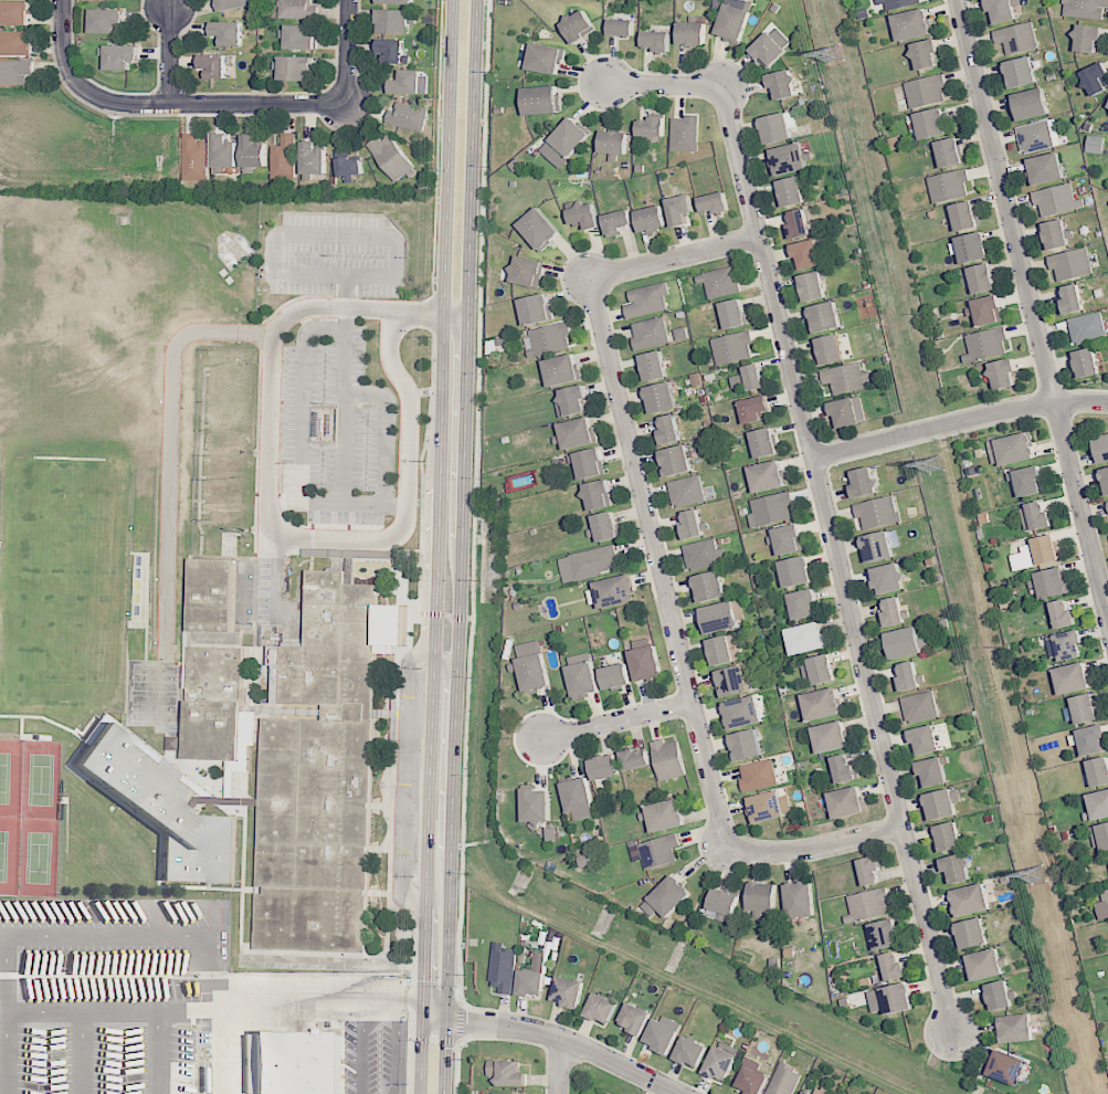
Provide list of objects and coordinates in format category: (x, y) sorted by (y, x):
building: (397, 1)
building: (900, 3)
building: (236, 4)
building: (299, 9)
building: (1086, 9)
building: (1004, 10)
building: (15, 13)
building: (864, 13)
building: (107, 20)
building: (395, 20)
building: (735, 22)
building: (623, 24)
building: (580, 25)
building: (915, 25)
building: (230, 32)
building: (694, 33)
building: (302, 38)
building: (1019, 38)
building: (1088, 38)
building: (659, 39)
building: (14, 43)
building: (393, 50)
building: (770, 50)
road: (347, 52)
building: (928, 54)
road: (168, 55)
power tower: (834, 55)
building: (123, 56)
building: (547, 59)
building: (214, 65)
building: (298, 67)
building: (15, 71)
building: (1023, 72)
building: (1096, 78)
building: (409, 82)
building: (785, 84)
building: (927, 92)
building: (544, 99)
road: (166, 104)
building: (1032, 105)
building: (1107, 111)
building: (408, 117)
building: (933, 124)
building: (654, 126)
building: (778, 128)
building: (686, 133)
building: (573, 137)
building: (1037, 137)
building: (618, 143)
building: (1095, 144)
road: (435, 146)
building: (226, 152)
building: (951, 152)
building: (257, 154)
building: (394, 157)
building: (287, 158)
building: (198, 159)
building: (316, 159)
building: (792, 159)
building: (352, 166)
building: (1047, 170)
building: (950, 186)
building: (794, 191)
building: (1058, 200)
building: (716, 202)
building: (678, 209)
building: (587, 214)
building: (968, 217)
building: (654, 219)
building: (618, 222)
building: (800, 224)
building: (541, 228)
building: (1059, 234)
building: (974, 248)
building: (809, 255)
road: (674, 257)
building: (1073, 263)
building: (529, 270)
building: (984, 277)
building: (721, 282)
building: (814, 286)
building: (1076, 298)
building: (648, 299)
building: (537, 308)
building: (991, 311)
road: (1032, 312)
building: (736, 313)
road: (430, 314)
road: (454, 317)
building: (826, 317)
building: (1089, 328)
building: (653, 332)
building: (551, 339)
building: (496, 345)
building: (986, 345)
building: (735, 347)
building: (832, 349)
building: (230, 359)
building: (1088, 364)
building: (656, 366)
building: (564, 370)
building: (1005, 372)
building: (756, 377)
building: (846, 377)
building: (229, 390)
building: (664, 397)
building: (572, 401)
building: (755, 408)
building: (846, 412)
building: (228, 417)
road: (960, 424)
building: (669, 431)
building: (578, 433)
building: (228, 442)
building: (767, 443)
building: (1104, 448)
building: (1014, 449)
road: (171, 455)
building: (678, 461)
building: (590, 463)
building: (225, 465)
power tower: (936, 467)
road: (420, 475)
building: (1106, 475)
building: (769, 476)
building: (1028, 480)
building: (866, 484)
building: (225, 492)
building: (688, 492)
building: (599, 494)
road: (439, 499)
road: (462, 499)
building: (1107, 501)
road: (824, 504)
building: (774, 509)
building: (878, 512)
building: (1042, 516)
road: (270, 524)
building: (693, 525)
building: (605, 526)
building: (790, 538)
building: (228, 540)
building: (879, 546)
road: (474, 547)
building: (1047, 549)
building: (703, 556)
road: (656, 561)
building: (595, 562)
building: (798, 572)
building: (890, 578)
building: (1051, 582)
building: (711, 587)
building: (616, 591)
building: (805, 604)
road: (428, 613)
building: (896, 613)
building: (1063, 614)
building: (721, 617)
road: (453, 618)
building: (213, 633)
building: (809, 639)
building: (907, 643)
building: (1070, 644)
building: (724, 652)
road: (446, 663)
building: (648, 663)
building: (824, 670)
building: (536, 674)
building: (619, 676)
building: (911, 676)
park: (152, 677)
building: (1074, 679)
building: (584, 681)
building: (736, 681)
building: (824, 704)
park: (152, 707)
building: (921, 707)
building: (1086, 708)
building: (746, 713)
road: (616, 720)
building: (213, 730)
building: (833, 737)
building: (927, 740)
building: (1094, 740)
building: (173, 743)
building: (749, 745)
building: (636, 759)
building: (669, 760)
building: (608, 768)
building: (323, 769)
building: (847, 769)
building: (1099, 771)
building: (935, 772)
building: (759, 775)
park: (11, 777)
park: (40, 778)
building: (581, 796)
building: (850, 802)
building: (942, 803)
building: (1099, 806)
building: (538, 808)
building: (771, 808)
building: (166, 810)
building: (666, 816)
building: (1100, 835)
building: (951, 837)
road: (814, 848)
park: (10, 852)
building: (662, 852)
park: (39, 854)
building: (959, 867)
building: (872, 871)
power tower: (1041, 873)
building: (673, 896)
building: (764, 897)
building: (802, 901)
building: (972, 901)
building: (1106, 901)
building: (726, 903)
building: (868, 905)
road: (152, 934)
building: (885, 935)
building: (973, 935)
building: (988, 965)
building: (895, 968)
building: (503, 970)
building: (531, 983)
building: (570, 991)
building: (1002, 996)
building: (899, 999)
traffic signals: (423, 1000)
road: (435, 1000)
road: (284, 1001)
building: (603, 1008)
road: (434, 1010)
road: (446, 1010)
traffic signals: (446, 1020)
building: (639, 1020)
building: (1019, 1029)
building: (664, 1037)
road: (433, 1040)
road: (566, 1042)
road: (421, 1046)
building: (693, 1051)
road: (7, 1052)
road: (444, 1056)
building: (294, 1063)
building: (724, 1063)
road: (407, 1066)
road: (558, 1066)
building: (1010, 1069)
building: (509, 1074)
building: (785, 1080)
building: (753, 1082)
building: (822, 1091)
building: (509, 1093)
building: (806, 1093)
building: (810, 1093)

